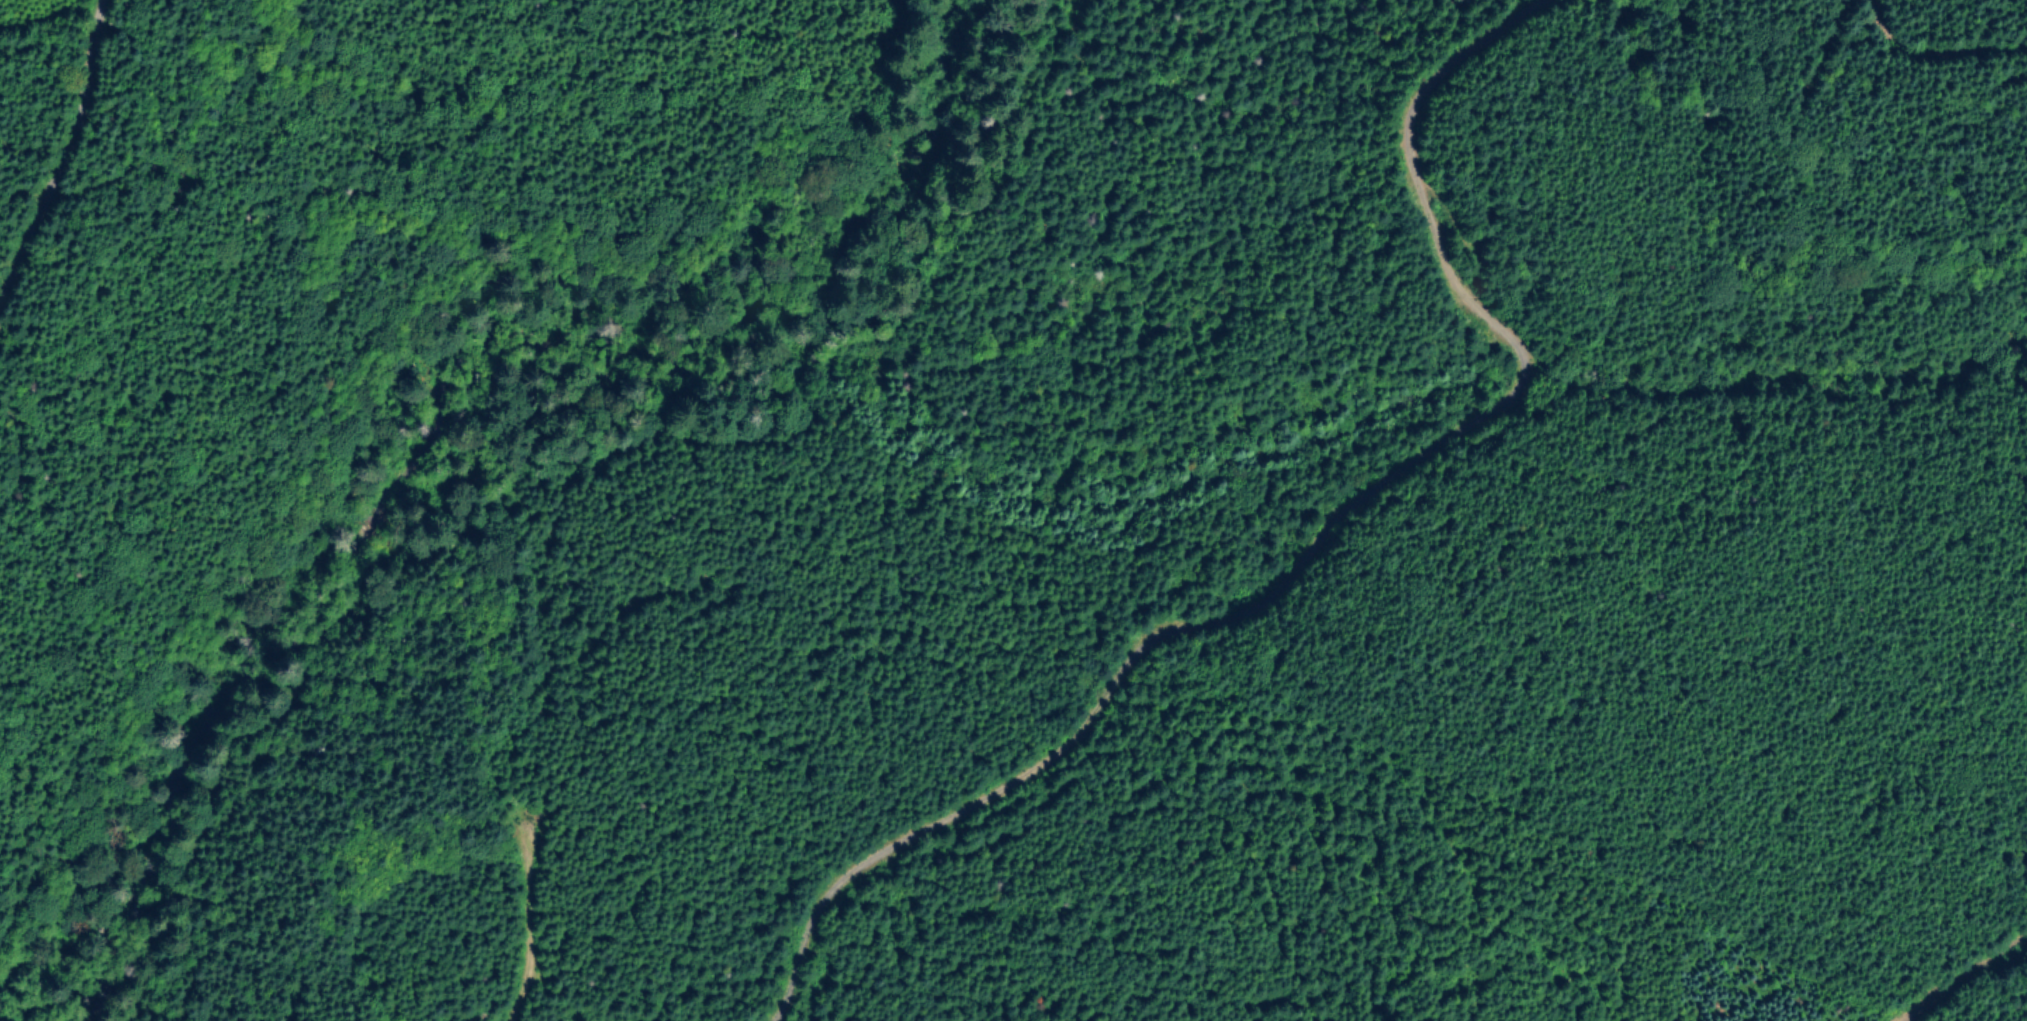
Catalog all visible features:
road: (82, 173)

